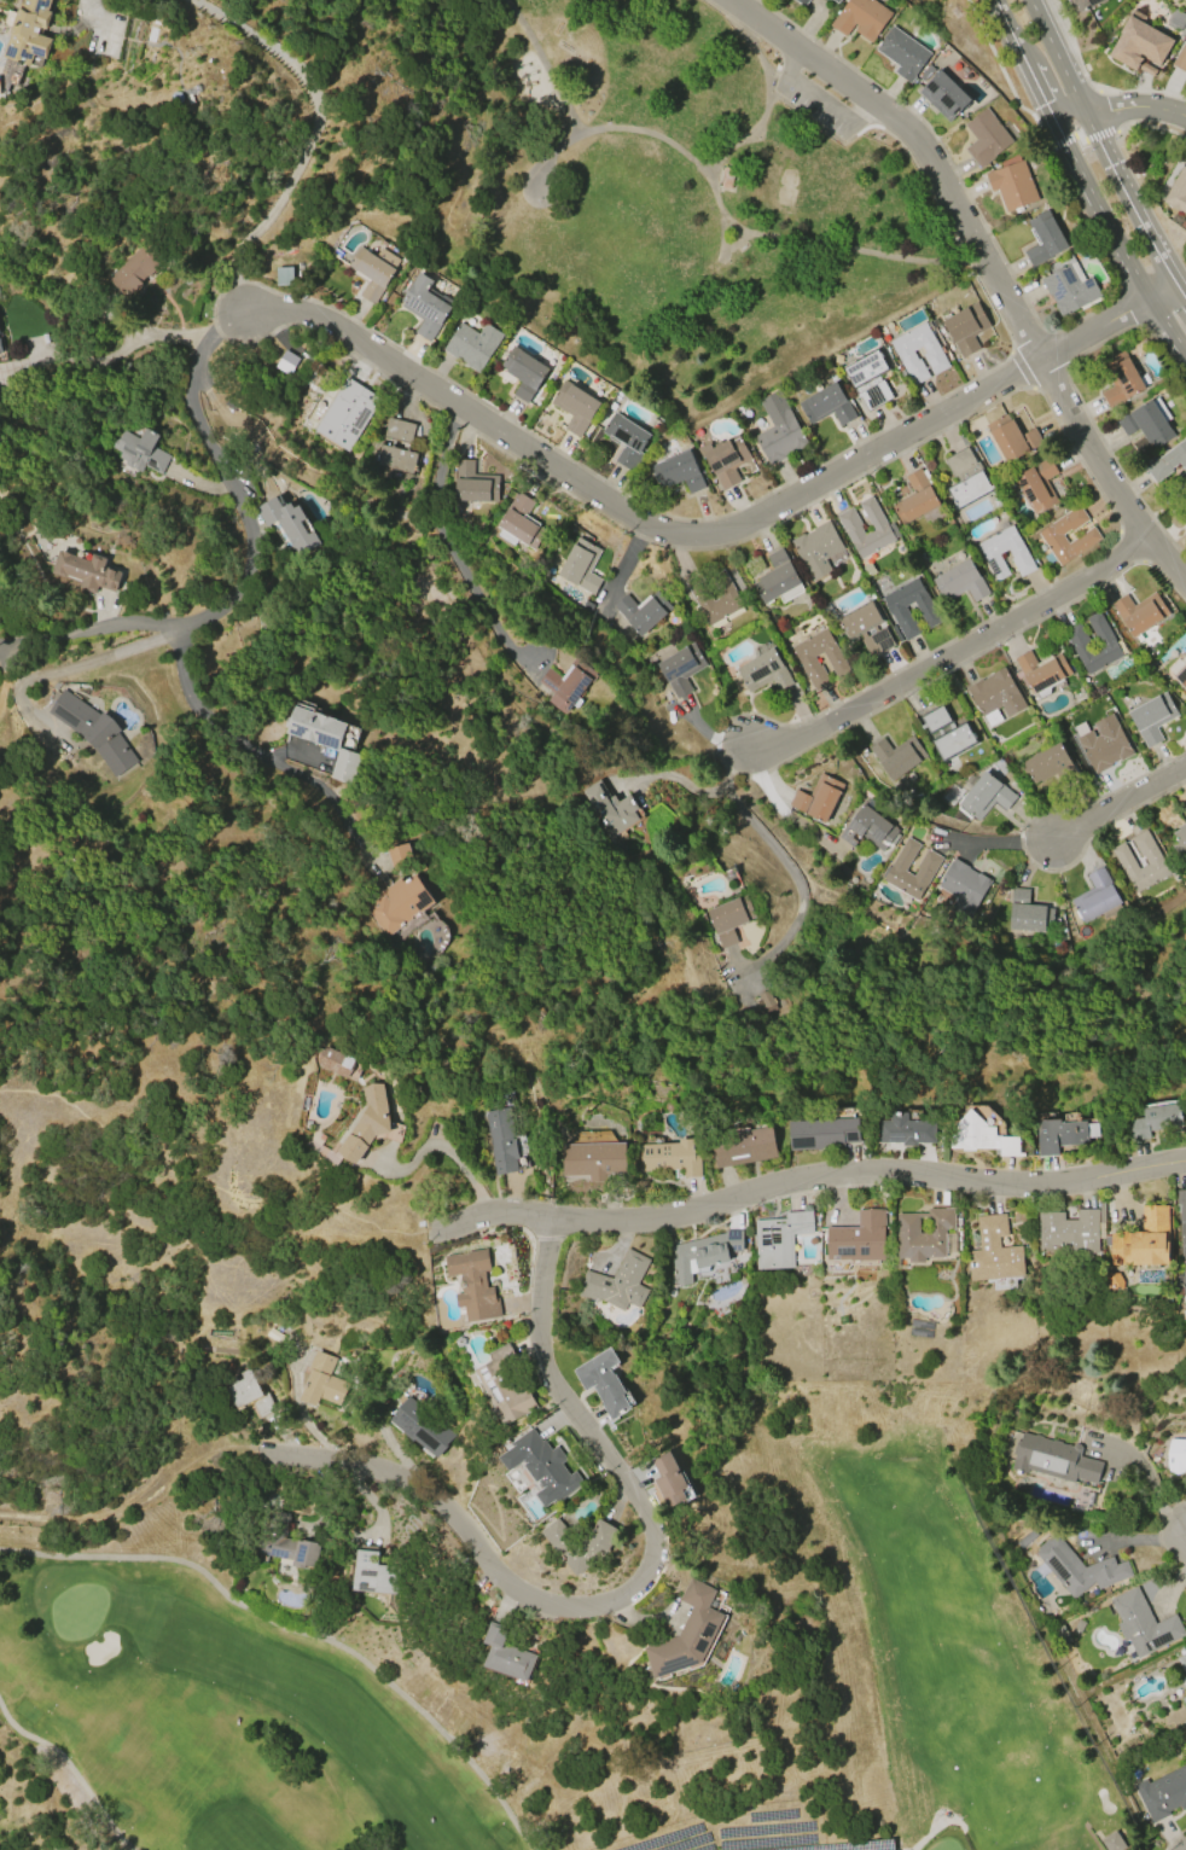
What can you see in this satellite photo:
building: (836, 1)
building: (801, 2)
building: (1082, 4)
road: (1001, 14)
building: (861, 18)
building: (1174, 19)
road: (764, 23)
building: (29, 31)
building: (1139, 45)
road: (1018, 48)
building: (902, 53)
road: (1057, 54)
building: (1181, 58)
road: (795, 62)
road: (543, 64)
road: (1001, 70)
road: (767, 71)
road: (778, 75)
road: (838, 75)
road: (1039, 89)
building: (0, 92)
building: (943, 94)
parking lot: (814, 107)
road: (832, 107)
road: (1115, 107)
road: (1167, 109)
road: (1068, 112)
road: (1133, 124)
road: (310, 138)
building: (986, 138)
road: (740, 140)
road: (1104, 149)
building: (726, 178)
building: (1011, 184)
building: (1178, 192)
park: (691, 205)
road: (1098, 206)
road: (726, 219)
road: (1150, 237)
building: (1042, 238)
road: (720, 257)
building: (133, 269)
building: (373, 270)
building: (1068, 289)
road: (1163, 292)
road: (1181, 292)
building: (424, 307)
road: (1168, 325)
building: (965, 327)
road: (1031, 343)
building: (471, 345)
building: (0, 350)
road: (122, 351)
building: (932, 355)
building: (286, 362)
building: (523, 373)
building: (1121, 379)
building: (868, 380)
building: (826, 405)
building: (575, 406)
building: (347, 413)
building: (1146, 424)
building: (399, 430)
building: (778, 430)
building: (1012, 438)
building: (626, 440)
building: (140, 450)
building: (725, 459)
building: (391, 461)
building: (678, 472)
building: (1155, 476)
building: (966, 477)
building: (475, 483)
building: (1036, 485)
building: (915, 498)
building: (521, 522)
building: (289, 524)
building: (850, 528)
road: (698, 533)
building: (1087, 536)
building: (816, 549)
building: (990, 551)
building: (580, 565)
building: (86, 571)
building: (775, 577)
building: (960, 582)
building: (727, 599)
road: (215, 610)
building: (896, 610)
building: (641, 611)
building: (1139, 612)
building: (859, 618)
road: (98, 627)
building: (877, 641)
road: (7, 645)
building: (1107, 645)
road: (947, 653)
building: (806, 661)
road: (62, 669)
building: (680, 669)
building: (1040, 670)
building: (1179, 670)
building: (763, 671)
building: (566, 683)
building: (995, 697)
building: (1152, 717)
building: (936, 719)
building: (93, 731)
building: (324, 738)
building: (953, 741)
building: (1101, 743)
building: (897, 756)
building: (1048, 762)
road: (669, 775)
building: (986, 796)
building: (818, 797)
road: (772, 802)
road: (1121, 803)
building: (1185, 804)
building: (1185, 805)
building: (609, 807)
building: (868, 827)
road: (998, 840)
building: (1179, 843)
road: (773, 850)
building: (397, 856)
building: (1152, 860)
building: (925, 869)
building: (963, 888)
building: (1094, 896)
building: (396, 903)
building: (1028, 913)
building: (728, 919)
building: (771, 1001)
building: (335, 1061)
building: (1153, 1119)
building: (370, 1124)
building: (905, 1129)
building: (822, 1133)
building: (1059, 1134)
building: (982, 1135)
building: (500, 1140)
building: (743, 1146)
road: (447, 1150)
building: (670, 1157)
building: (593, 1159)
road: (812, 1177)
road: (213, 1182)
building: (1069, 1229)
building: (922, 1233)
building: (1181, 1233)
building: (857, 1238)
building: (779, 1239)
building: (1141, 1240)
building: (993, 1251)
building: (702, 1253)
building: (1115, 1280)
building: (472, 1282)
building: (617, 1282)
building: (322, 1381)
building: (603, 1381)
building: (505, 1384)
building: (248, 1392)
building: (422, 1426)
building: (1175, 1455)
building: (1053, 1459)
building: (541, 1466)
building: (668, 1480)
road: (1149, 1488)
building: (1025, 1538)
building: (286, 1543)
building: (580, 1543)
building: (1077, 1567)
building: (372, 1573)
road: (630, 1588)
building: (1143, 1624)
building: (1077, 1625)
building: (686, 1633)
road: (301, 1634)
building: (505, 1653)
building: (1182, 1668)
building: (1184, 1701)
road: (71, 1767)
building: (1162, 1793)
building: (1112, 1842)

